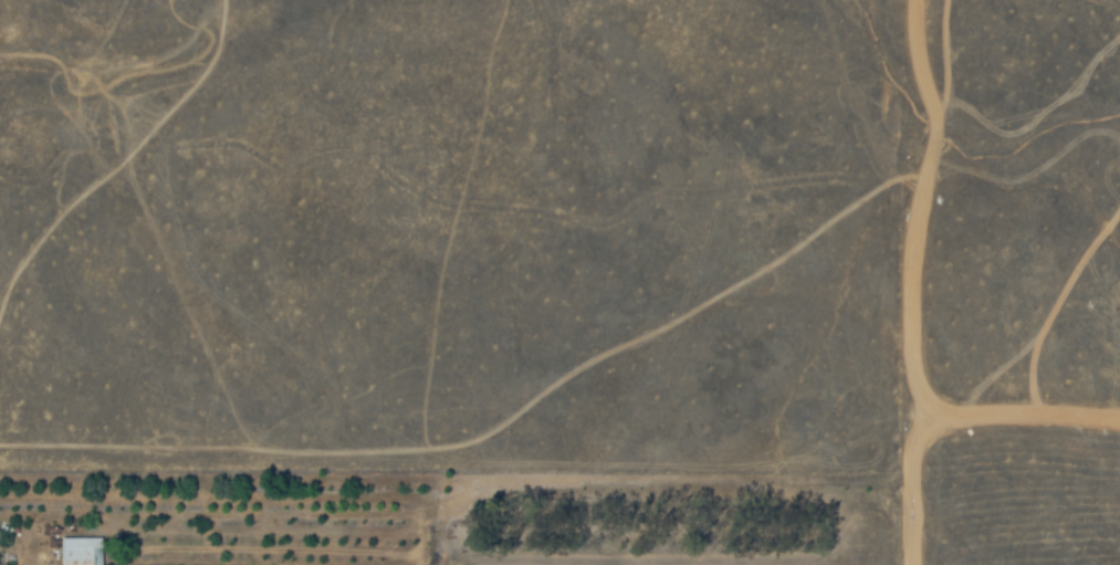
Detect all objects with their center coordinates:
building: (84, 552)

